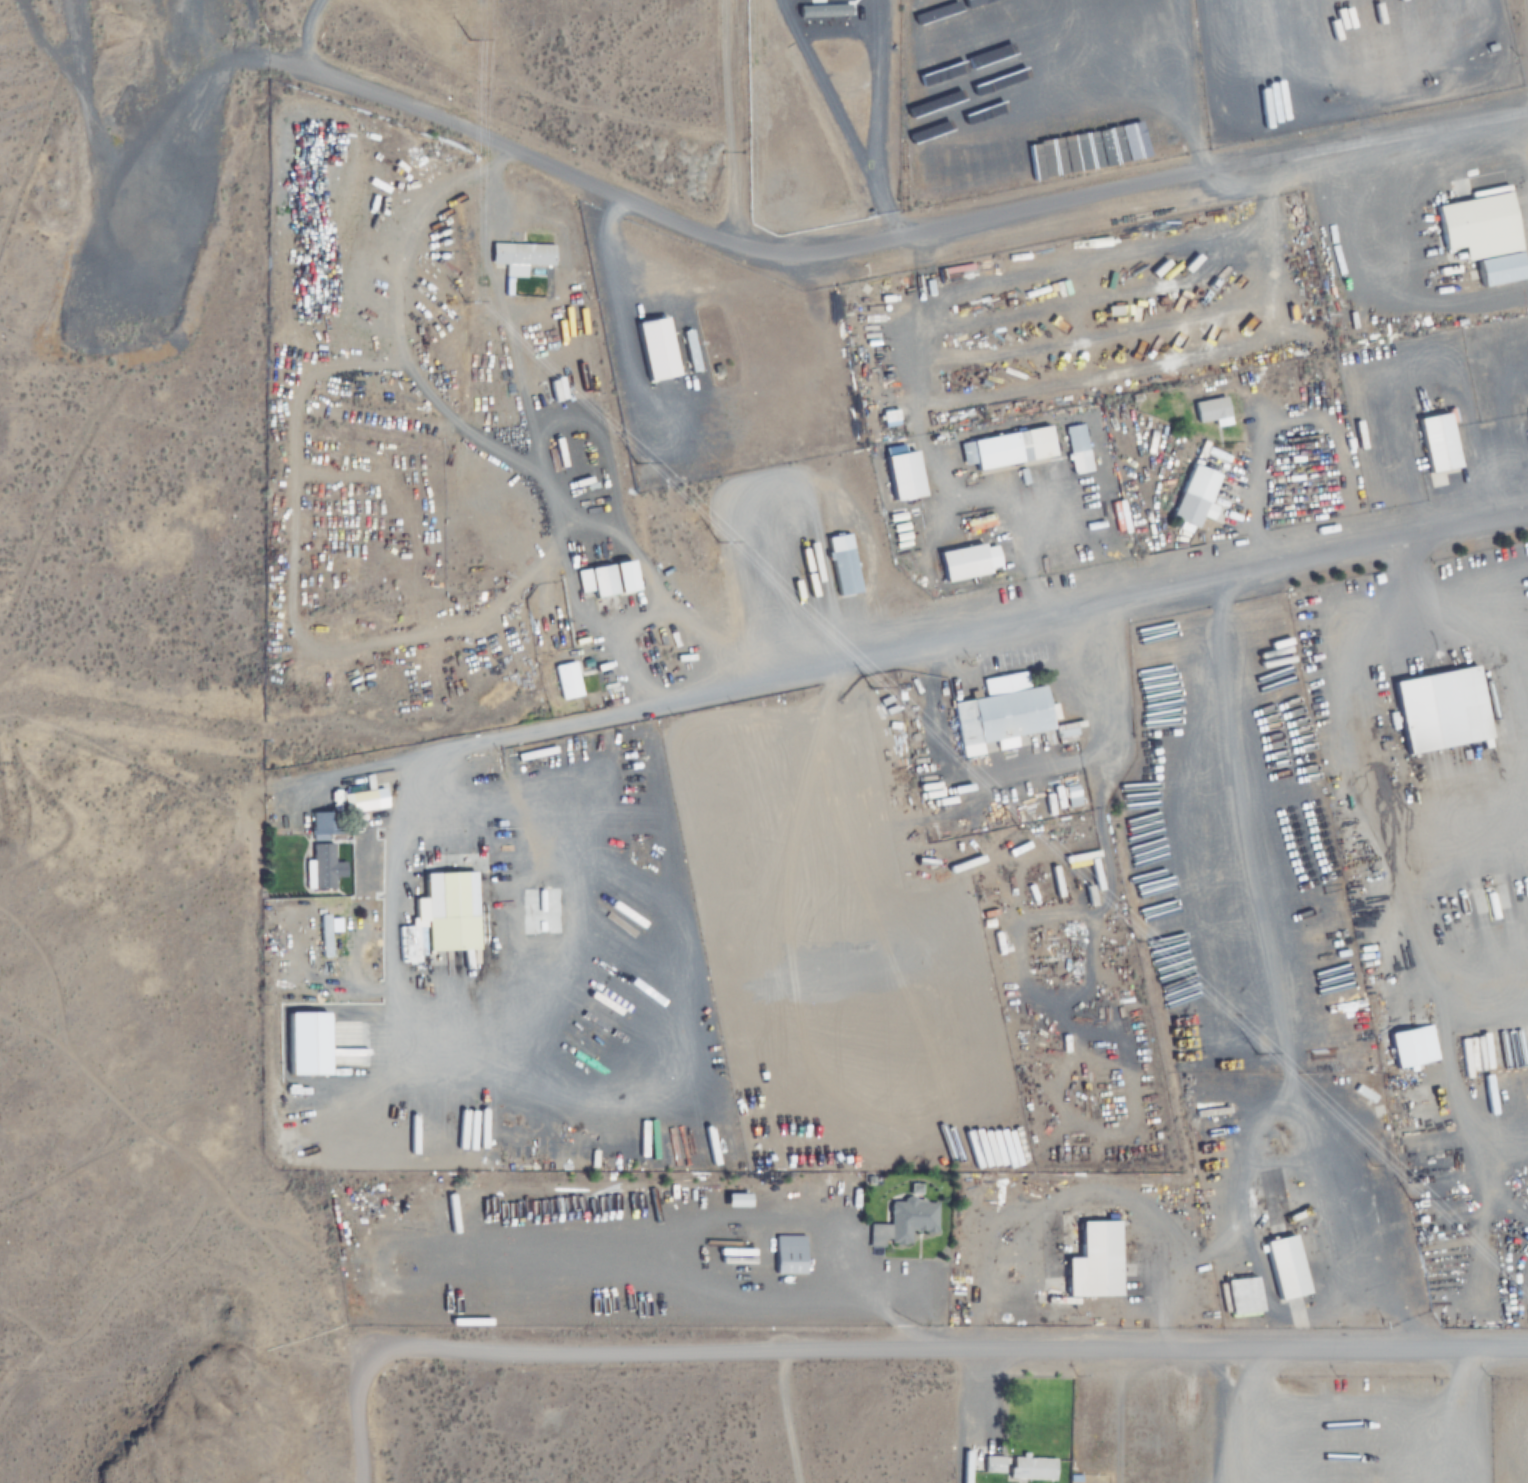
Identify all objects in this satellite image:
road: (296, 29)
road: (884, 124)
road: (576, 179)
road: (1205, 182)
building: (1478, 234)
building: (519, 257)
building: (654, 349)
building: (1210, 412)
building: (1527, 414)
building: (1007, 449)
building: (1076, 449)
building: (1435, 449)
building: (900, 474)
building: (1193, 496)
building: (965, 561)
building: (840, 563)
building: (603, 578)
road: (893, 651)
building: (566, 680)
building: (1438, 710)
building: (998, 713)
building: (1070, 796)
building: (318, 851)
building: (479, 869)
building: (445, 897)
building: (308, 1015)
building: (1403, 1047)
building: (514, 1145)
building: (397, 1150)
building: (909, 1221)
building: (1089, 1259)
building: (1283, 1267)
road: (946, 1352)
road: (361, 1417)
road: (790, 1417)
road: (1214, 1417)
road: (1465, 1417)
building: (992, 1465)
building: (1029, 1470)

